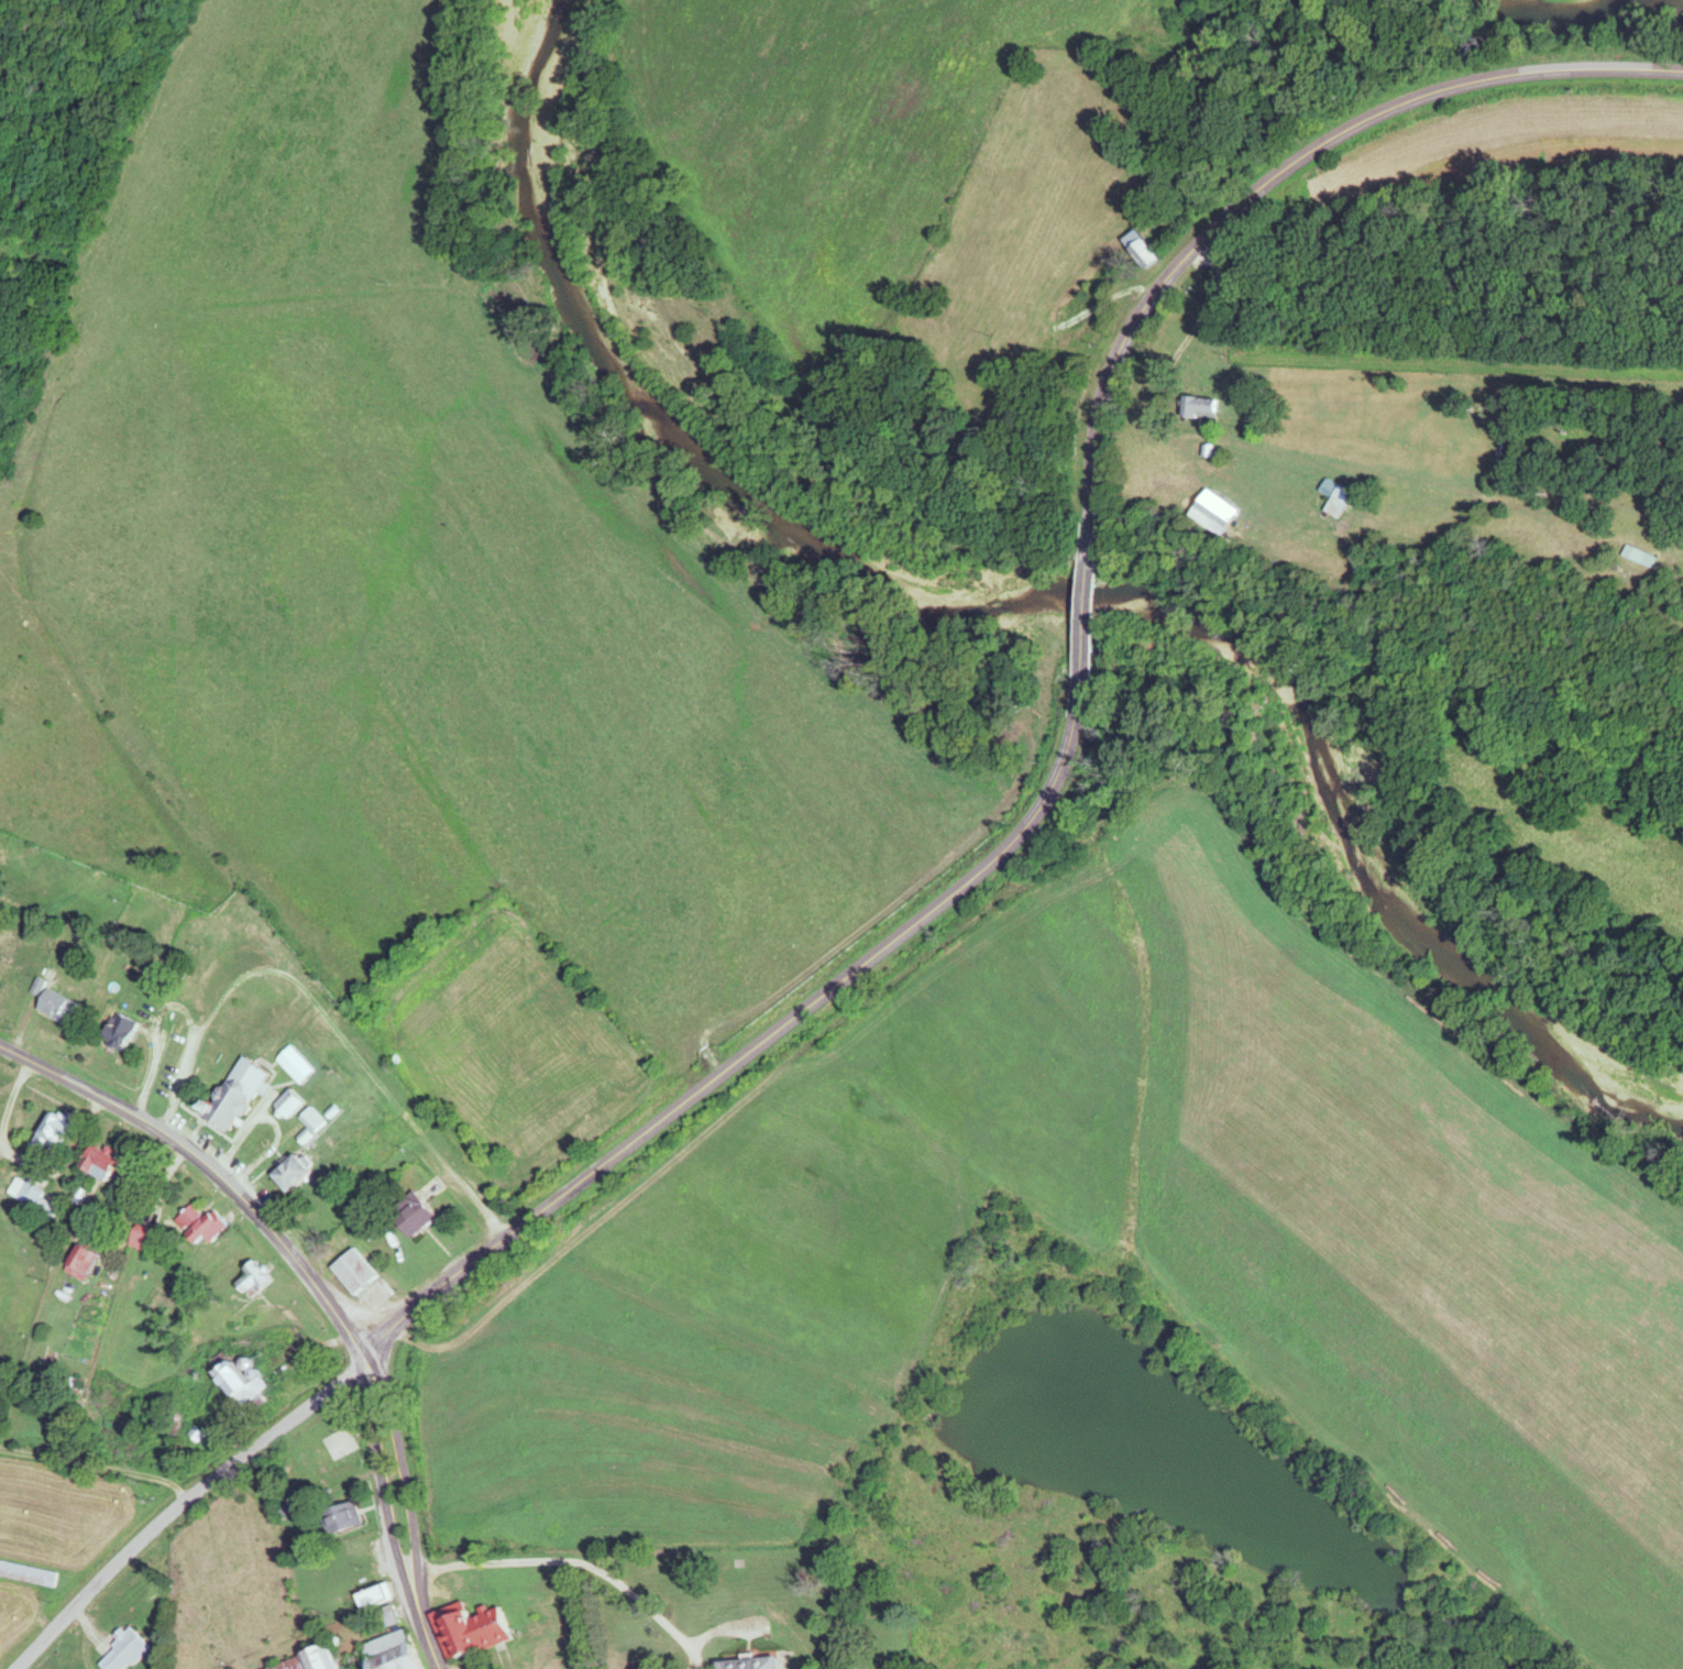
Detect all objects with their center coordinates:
building: (1134, 250)
building: (1197, 407)
building: (1333, 498)
building: (1212, 513)
building: (1635, 557)
road: (1077, 681)
building: (45, 1003)
road: (324, 1018)
building: (112, 1032)
building: (289, 1066)
building: (229, 1096)
road: (12, 1098)
building: (282, 1107)
building: (307, 1121)
building: (43, 1134)
road: (12, 1160)
building: (92, 1165)
building: (285, 1175)
building: (28, 1199)
building: (408, 1216)
building: (195, 1225)
building: (137, 1241)
building: (74, 1263)
building: (349, 1272)
building: (249, 1281)
road: (320, 1288)
building: (234, 1385)
road: (411, 1495)
road: (185, 1503)
building: (338, 1518)
road: (582, 1567)
building: (26, 1574)
building: (371, 1596)
building: (383, 1616)
building: (465, 1630)
building: (121, 1651)
building: (386, 1652)
building: (307, 1660)
building: (748, 1663)

